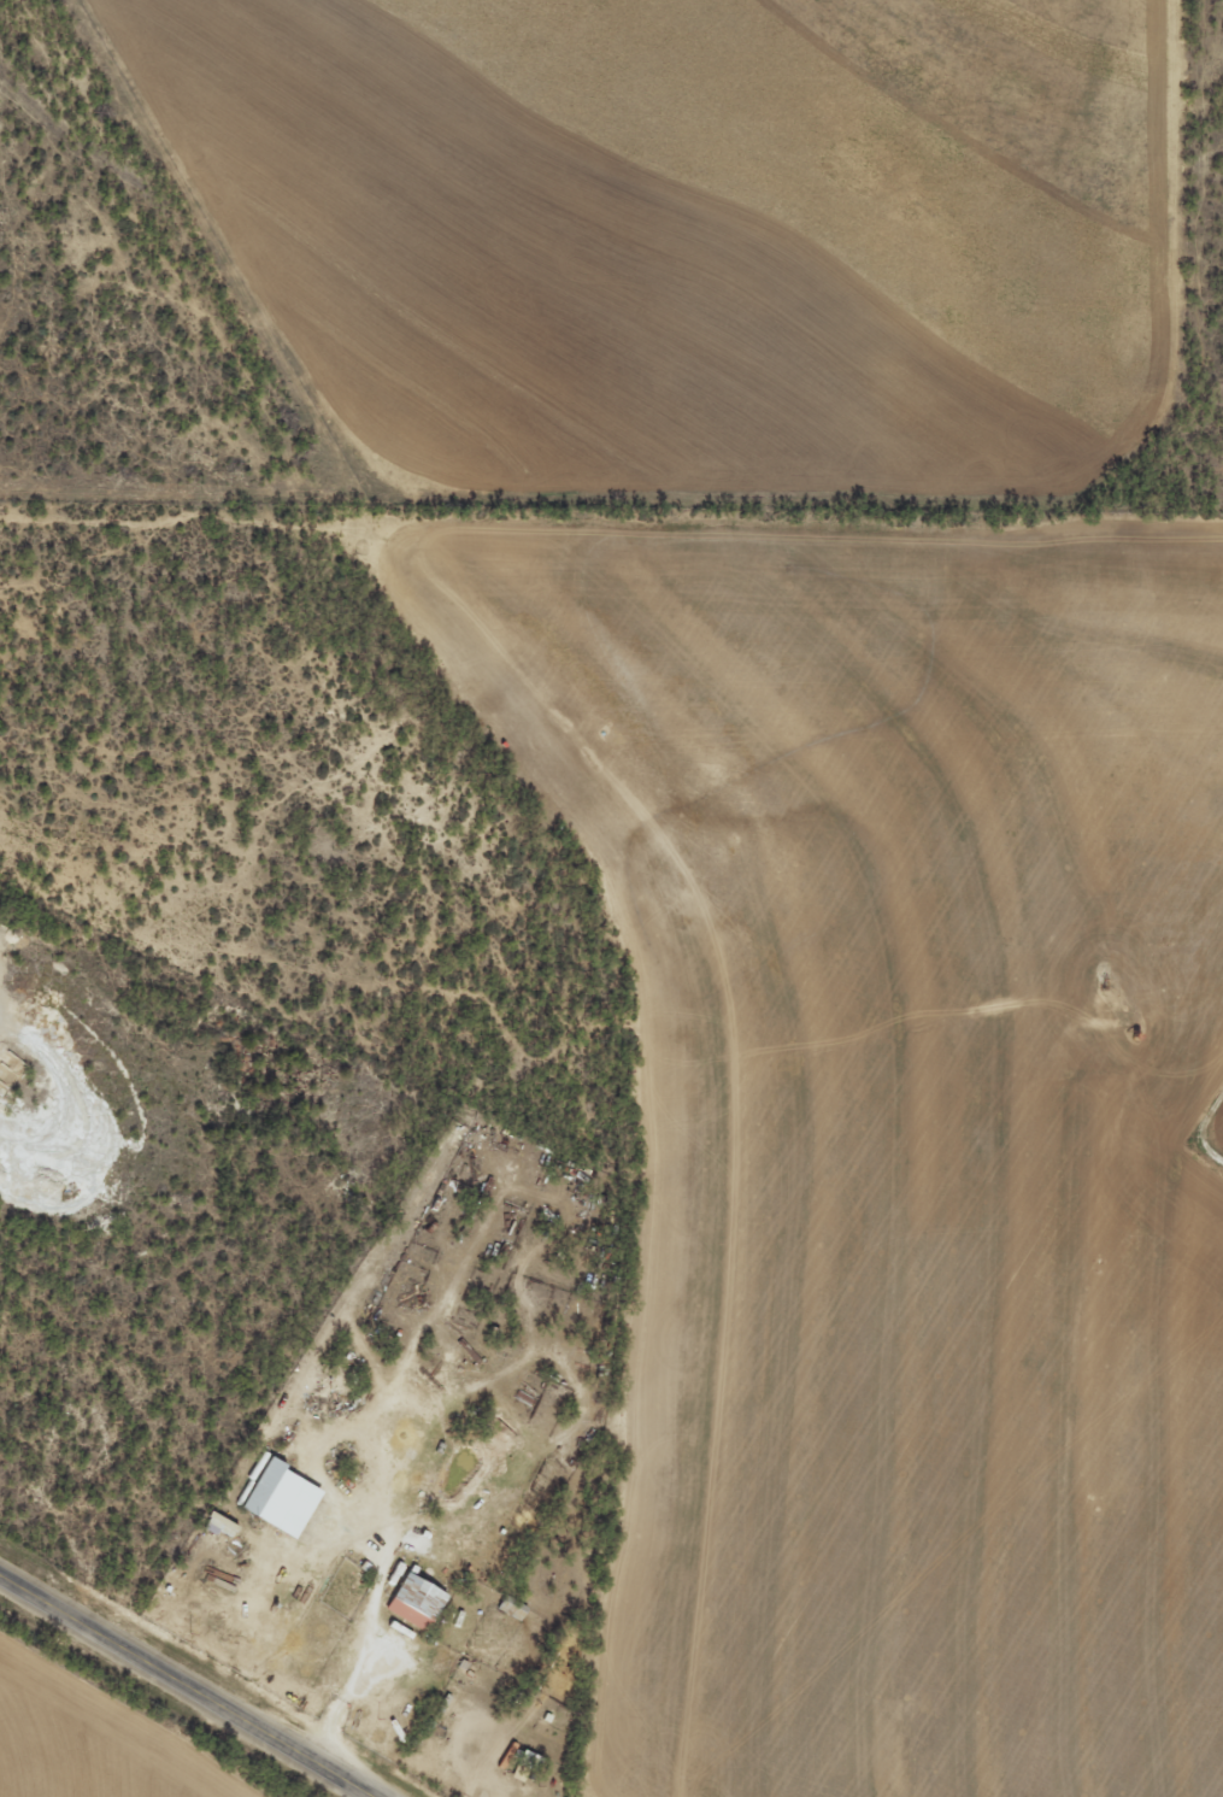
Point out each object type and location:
building: (219, 1525)
building: (416, 1602)
road: (166, 1698)

